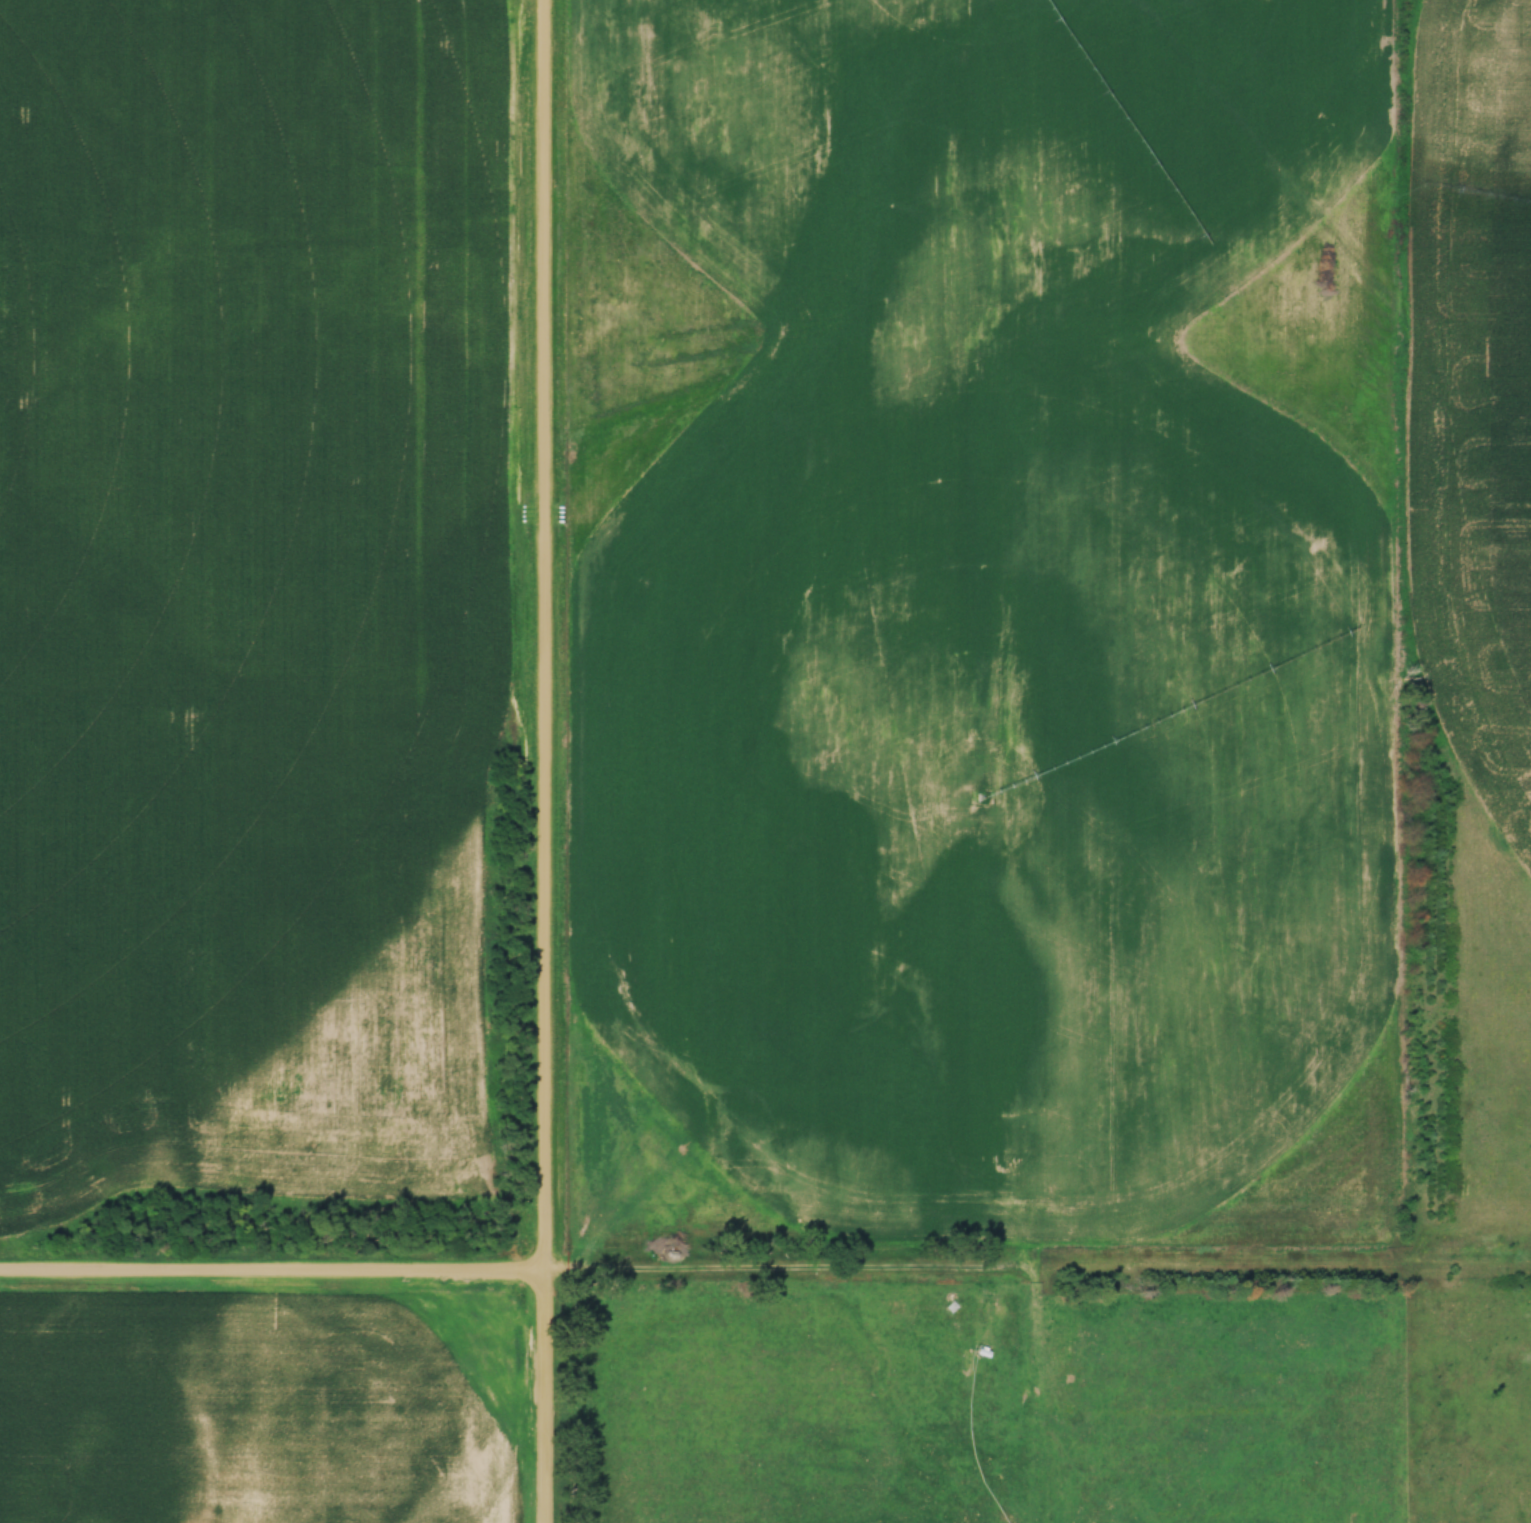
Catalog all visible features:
road: (547, 761)
road: (765, 1274)

